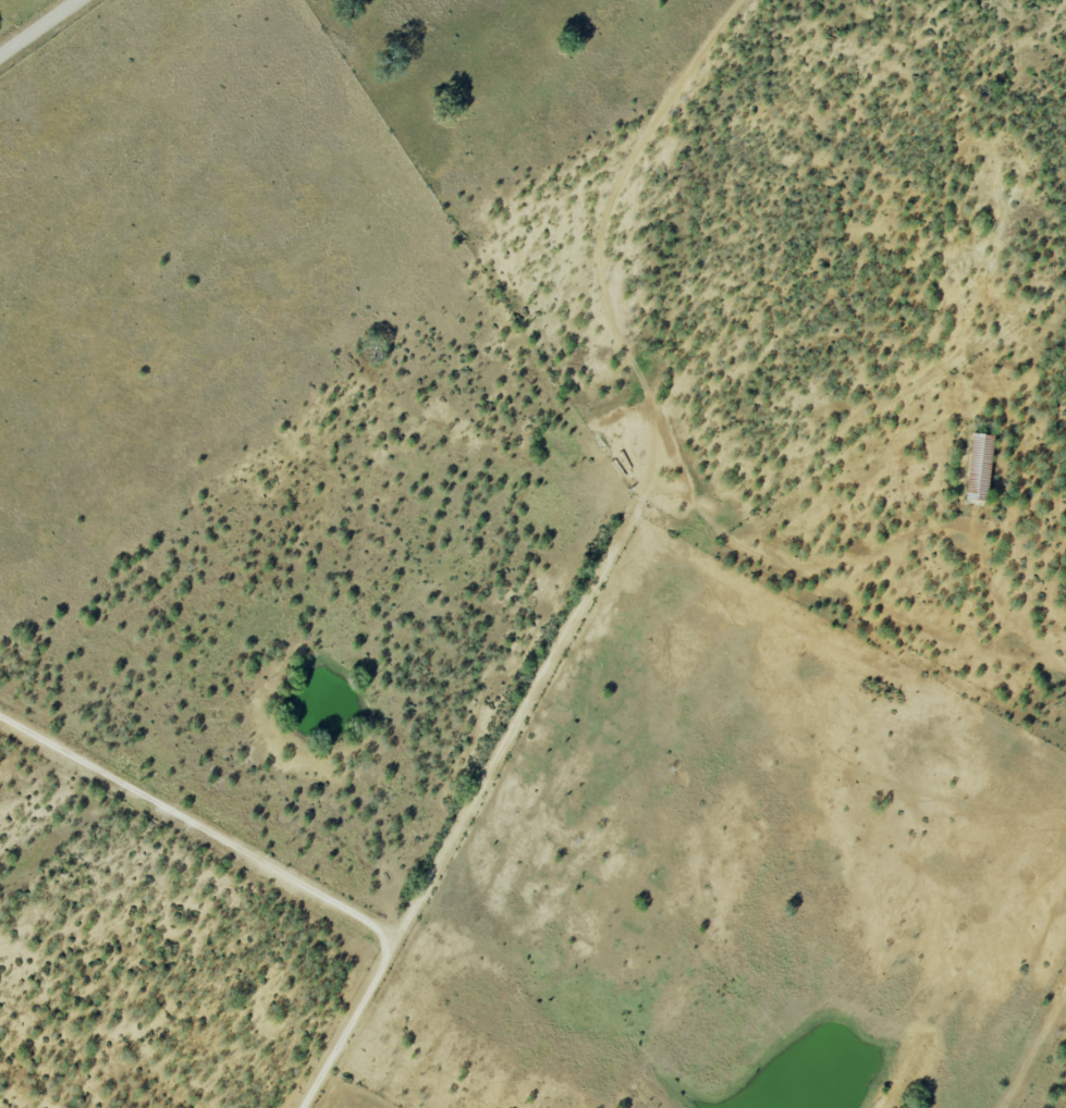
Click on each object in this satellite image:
road: (39, 28)
road: (259, 886)

